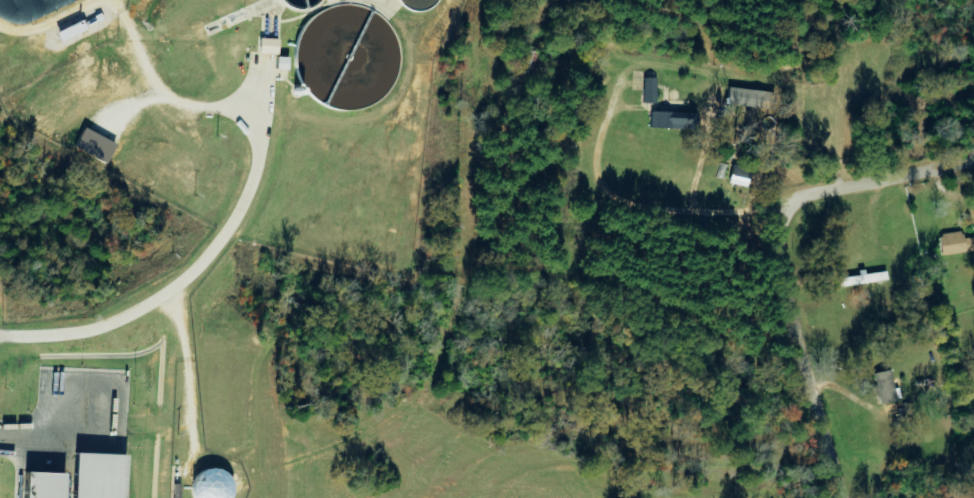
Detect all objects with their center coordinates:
building: (70, 31)
building: (268, 46)
building: (282, 63)
building: (649, 91)
building: (751, 98)
building: (671, 120)
building: (95, 146)
building: (740, 175)
building: (955, 243)
road: (786, 260)
road: (115, 379)
building: (884, 387)
road: (34, 447)
building: (98, 476)
building: (44, 485)
building: (211, 485)

